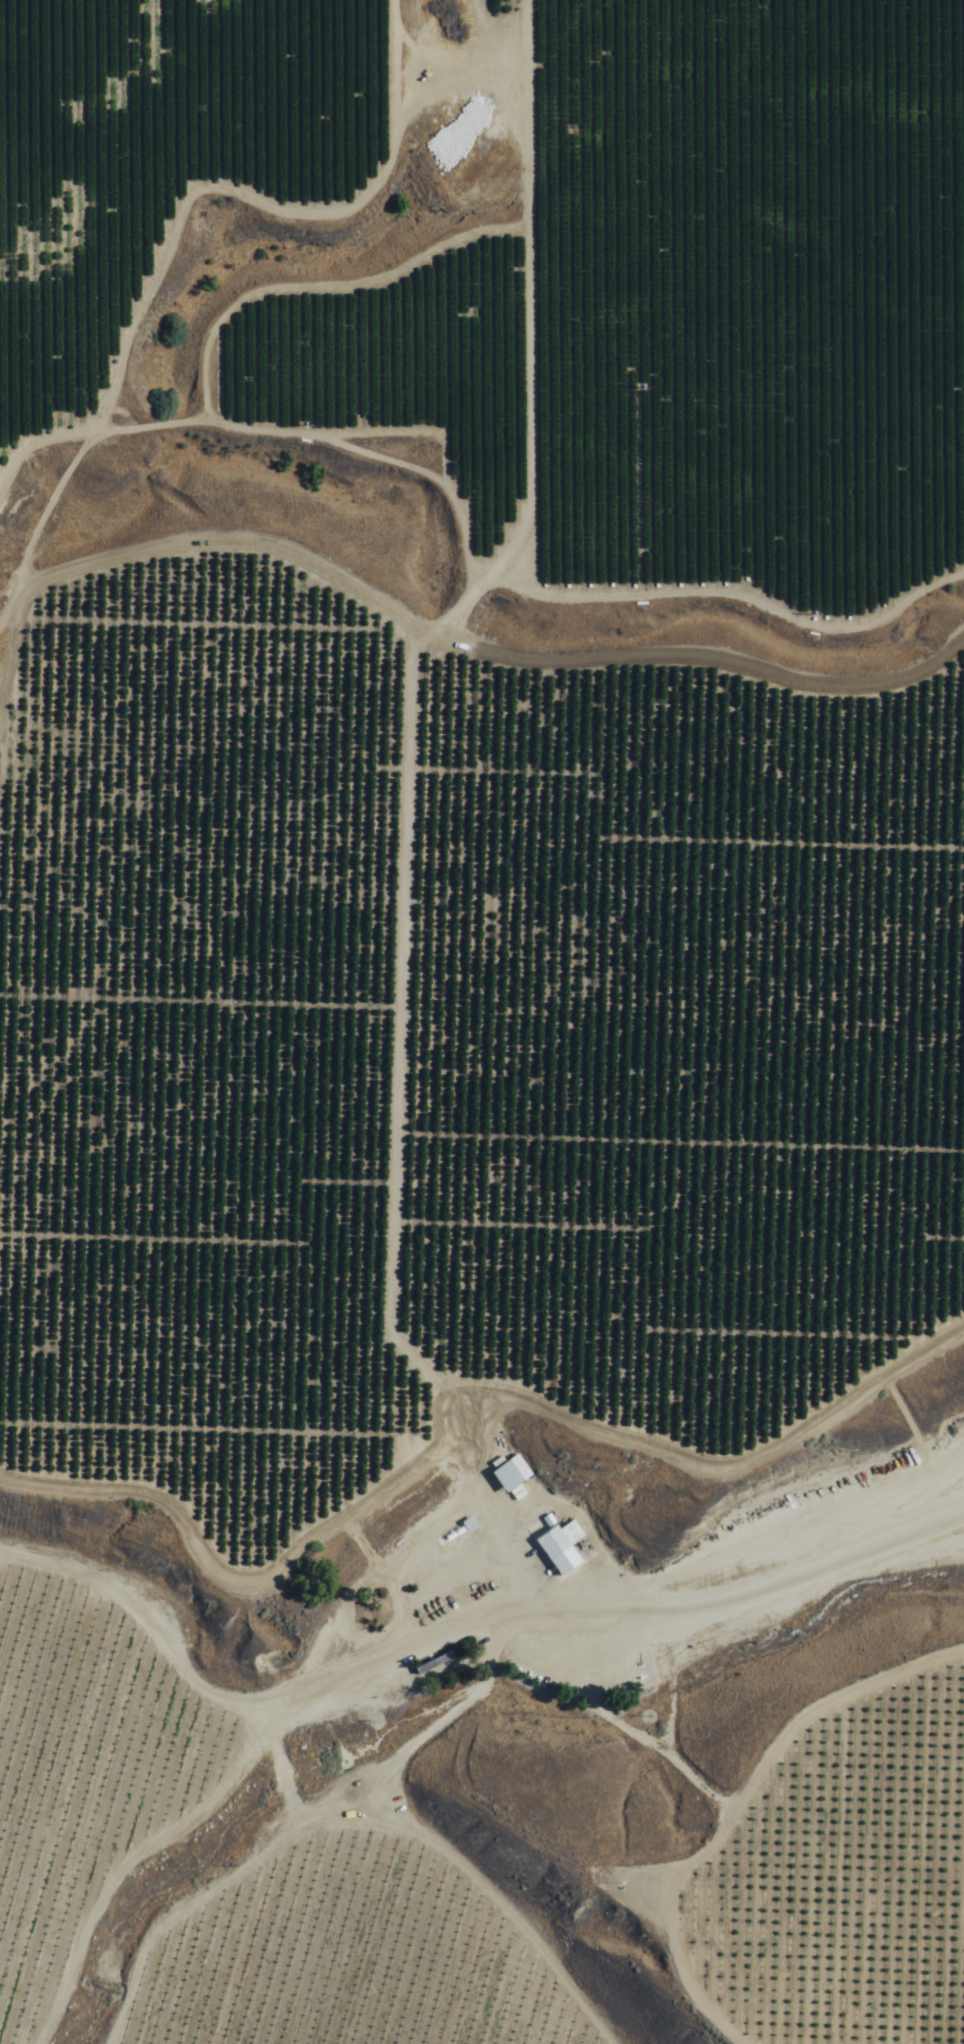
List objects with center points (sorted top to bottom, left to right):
crop: (462, 921)
road: (572, 1032)
building: (508, 1473)
building: (558, 1547)
road: (462, 1660)
road: (740, 1800)

